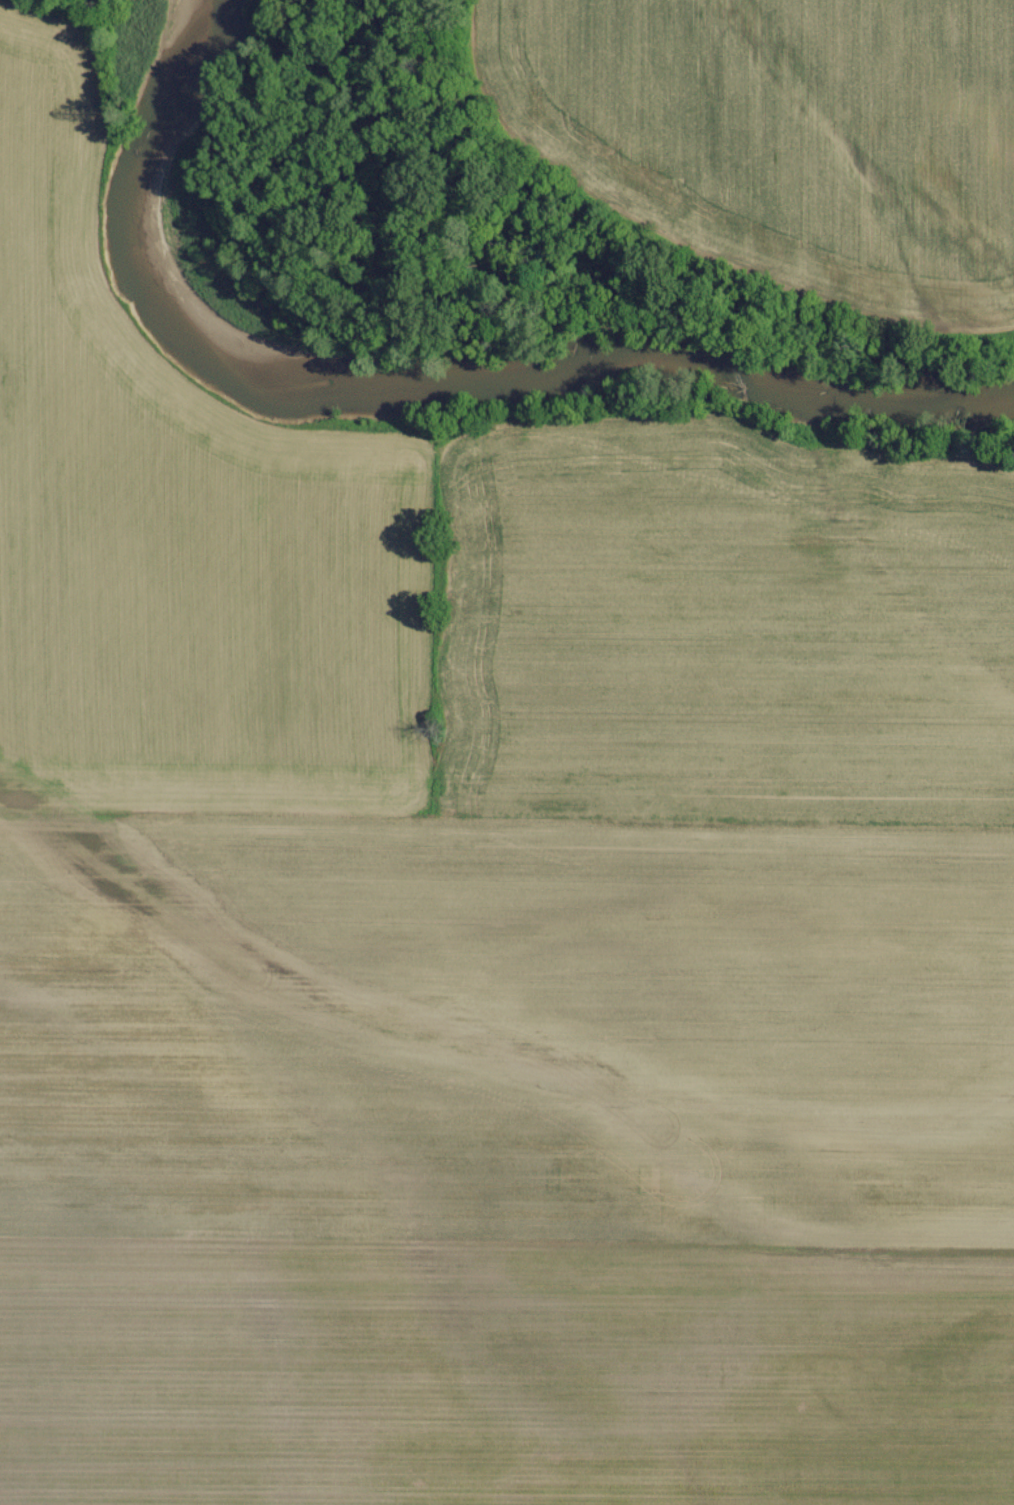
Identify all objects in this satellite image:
river: (449, 382)

